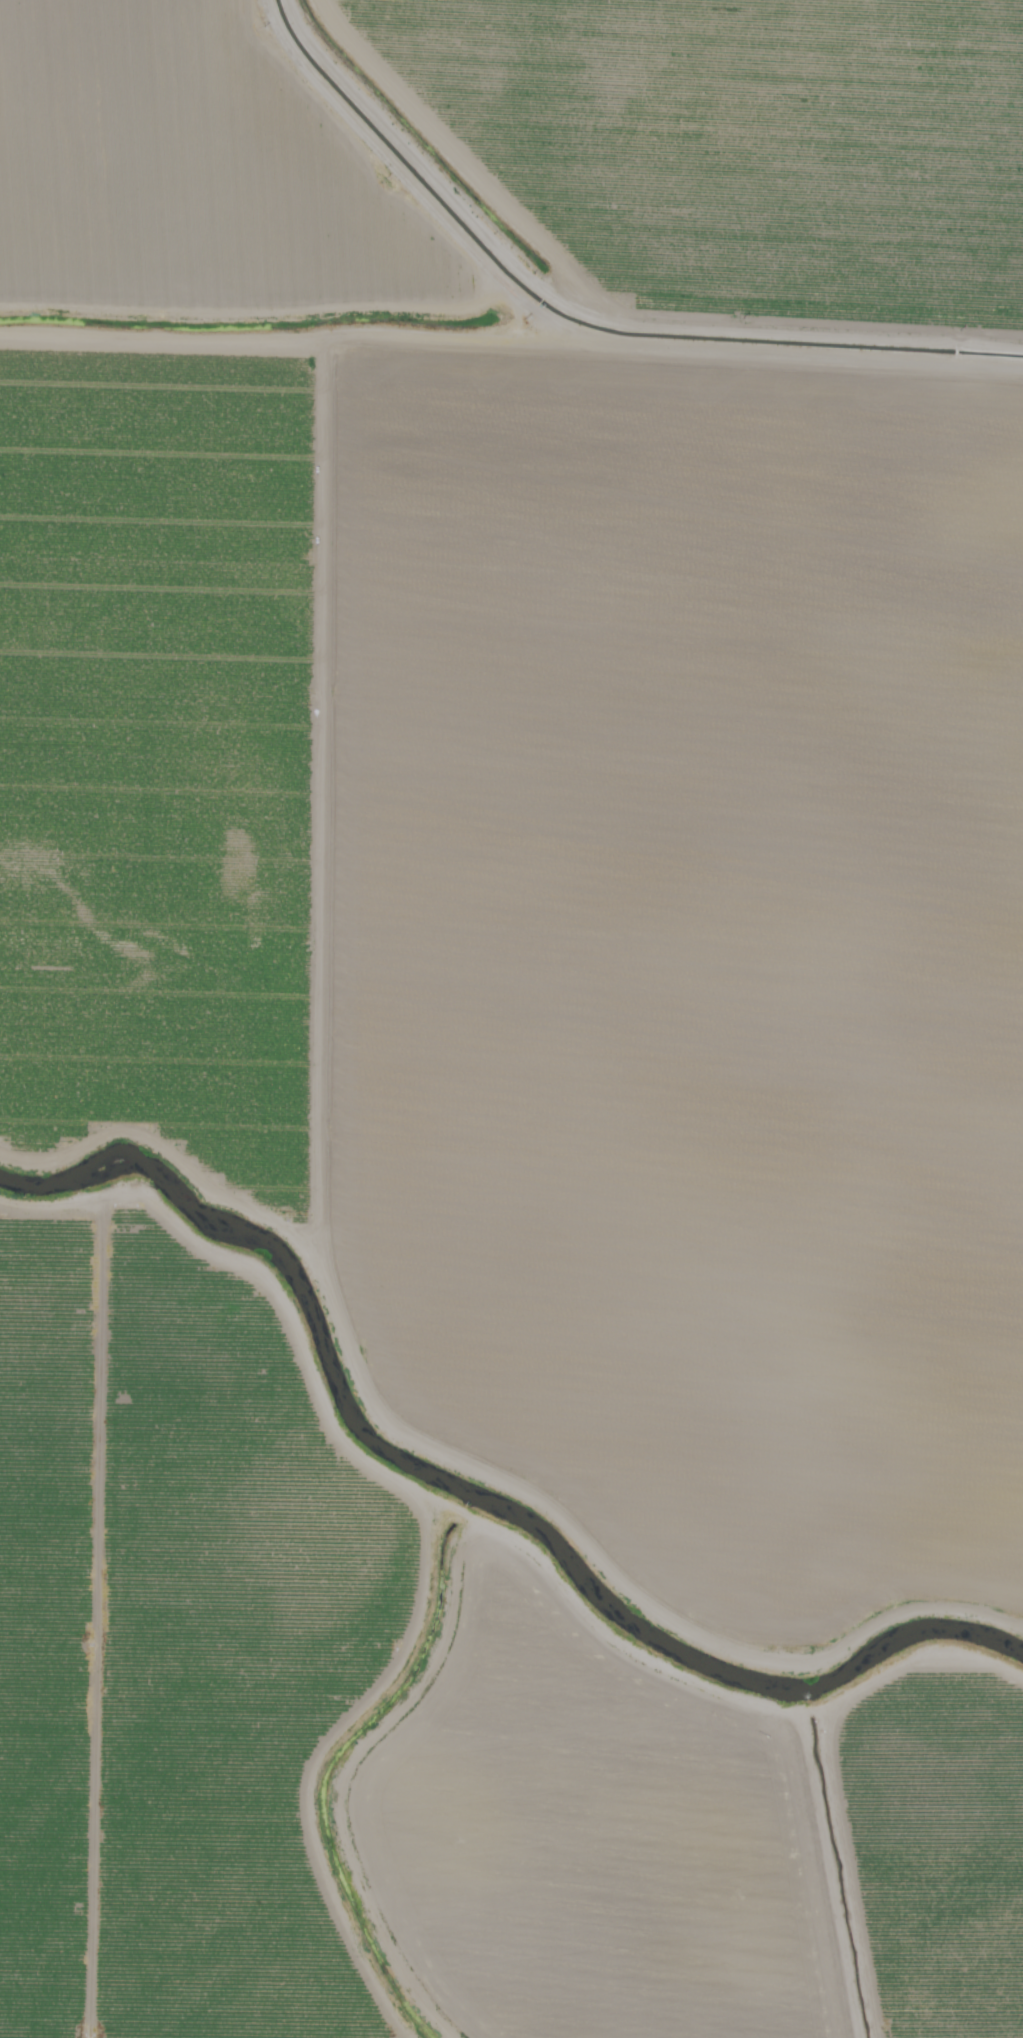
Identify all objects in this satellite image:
road: (569, 337)
road: (306, 491)
crop: (511, 1019)

